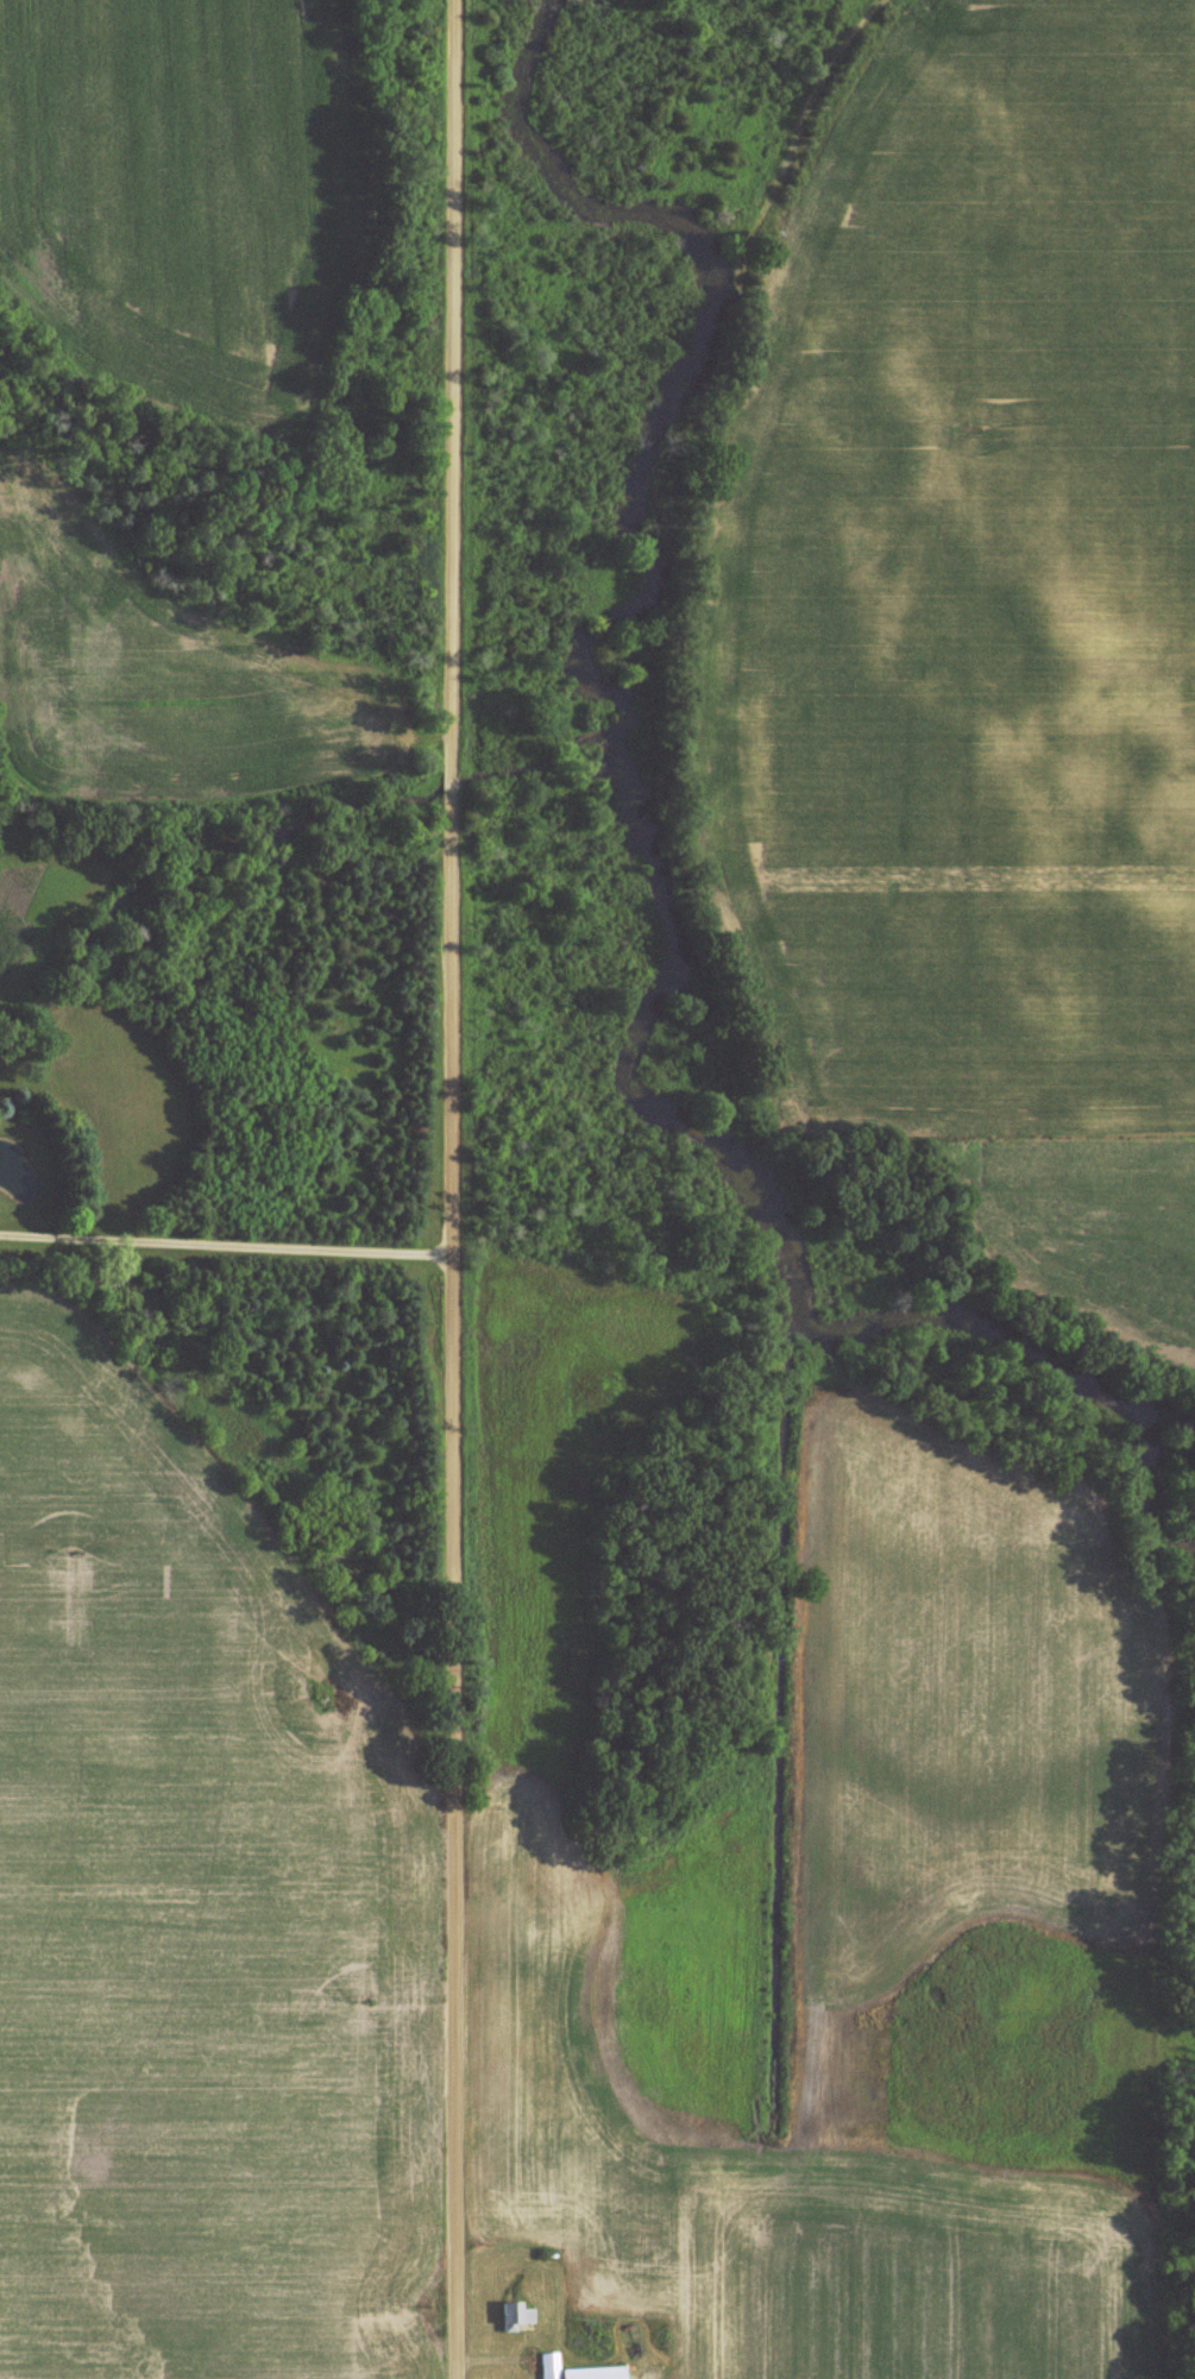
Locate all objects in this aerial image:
road: (464, 1189)
road: (232, 1240)
building: (517, 2316)
building: (549, 2366)
building: (595, 2373)

